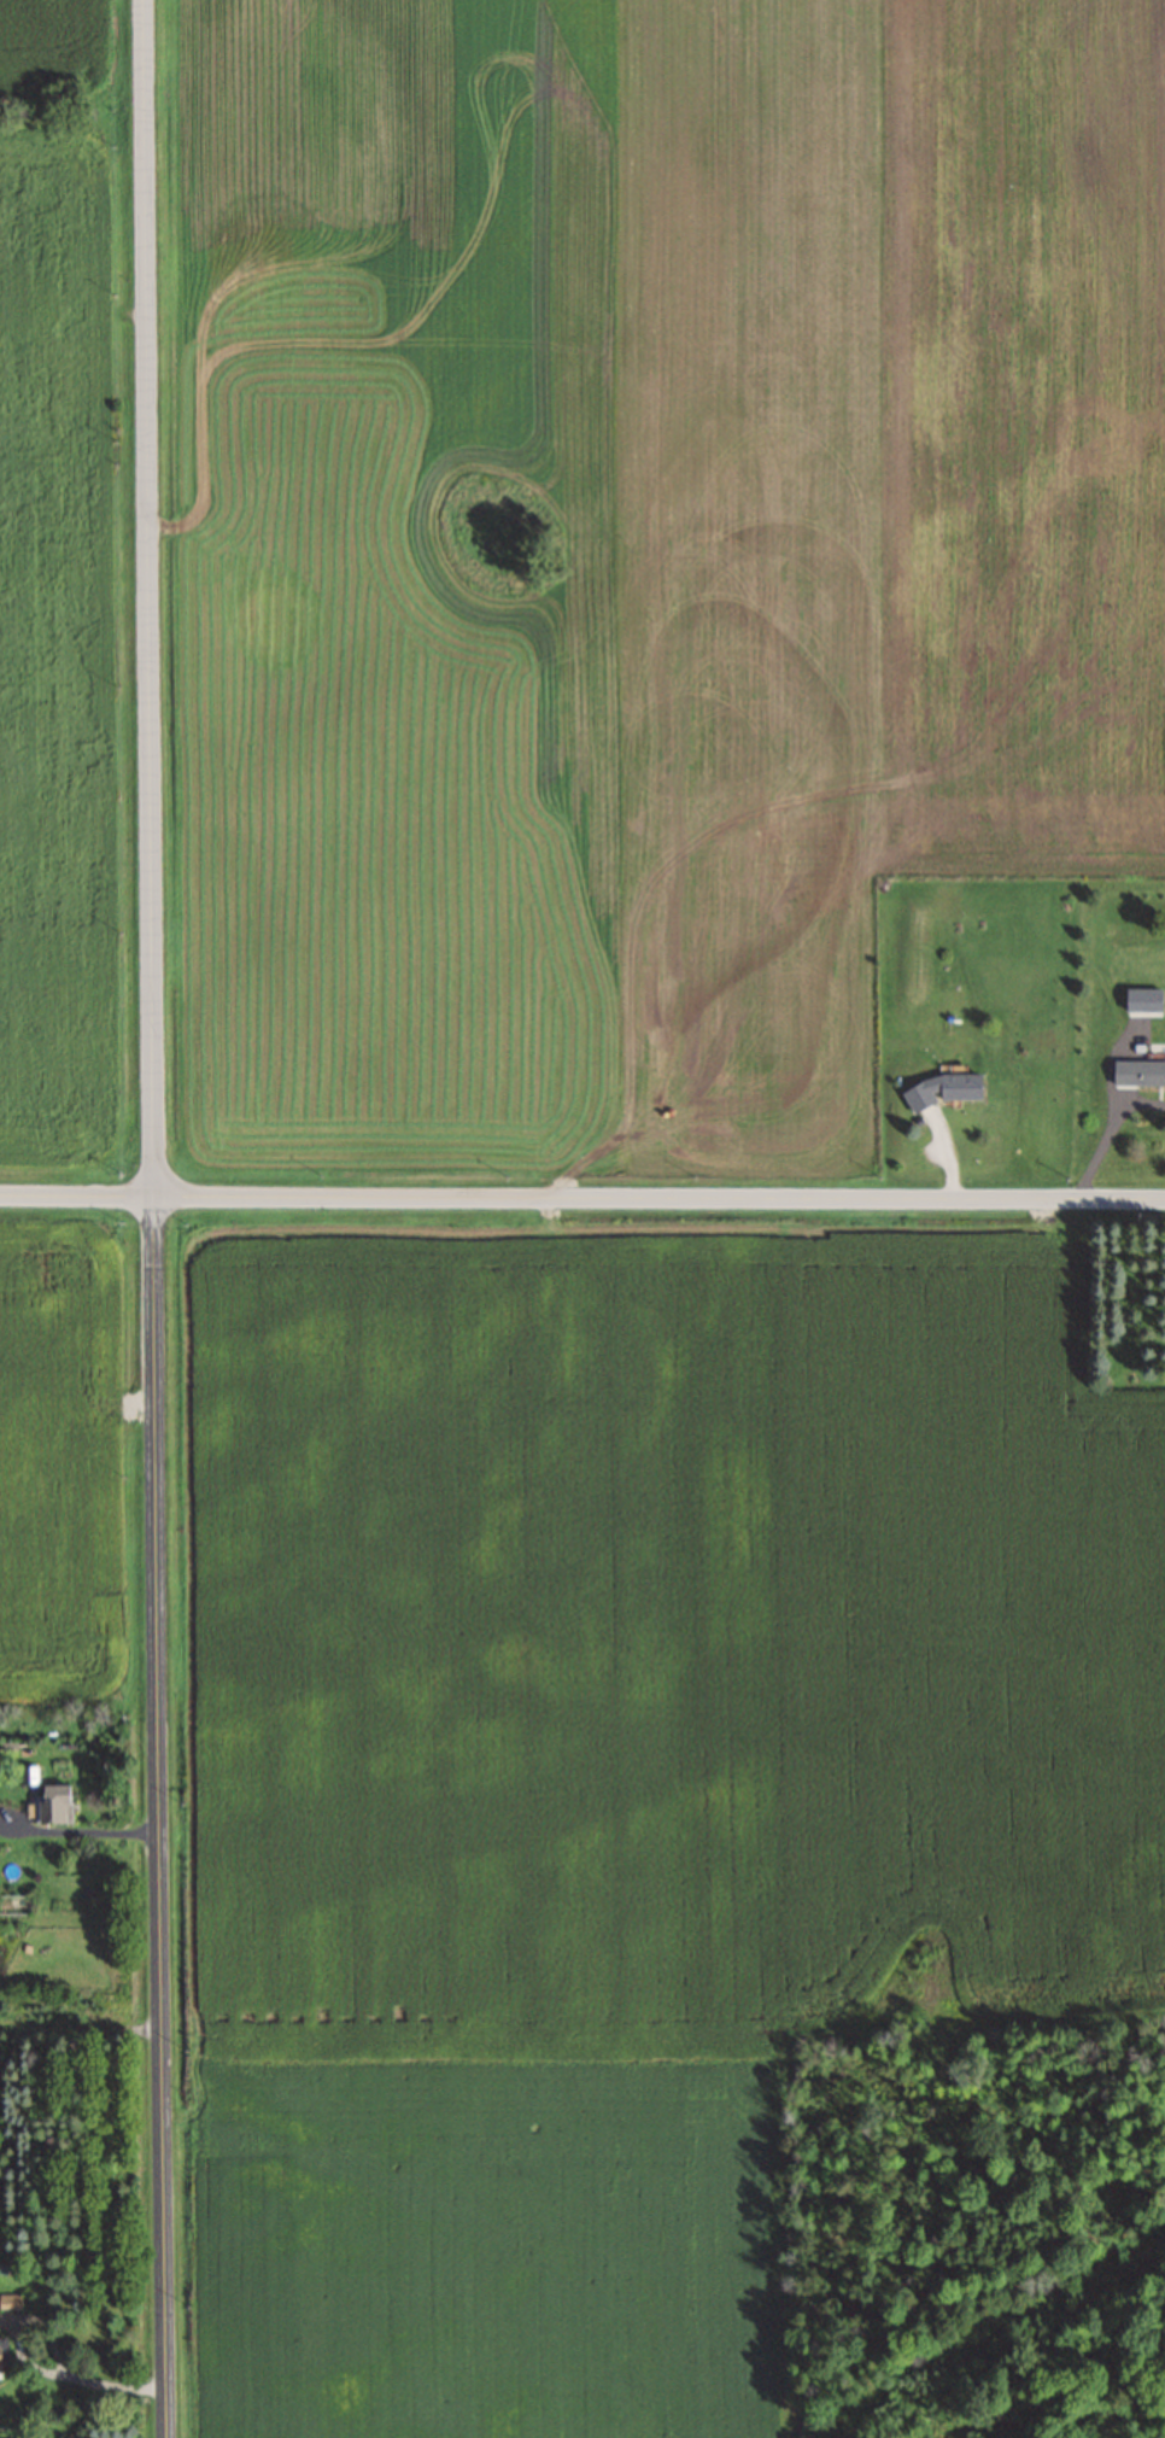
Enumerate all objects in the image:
building: (1138, 996)
building: (1138, 1071)
building: (943, 1089)
road: (581, 1197)
road: (156, 1218)
building: (53, 1803)
road: (31, 2364)

